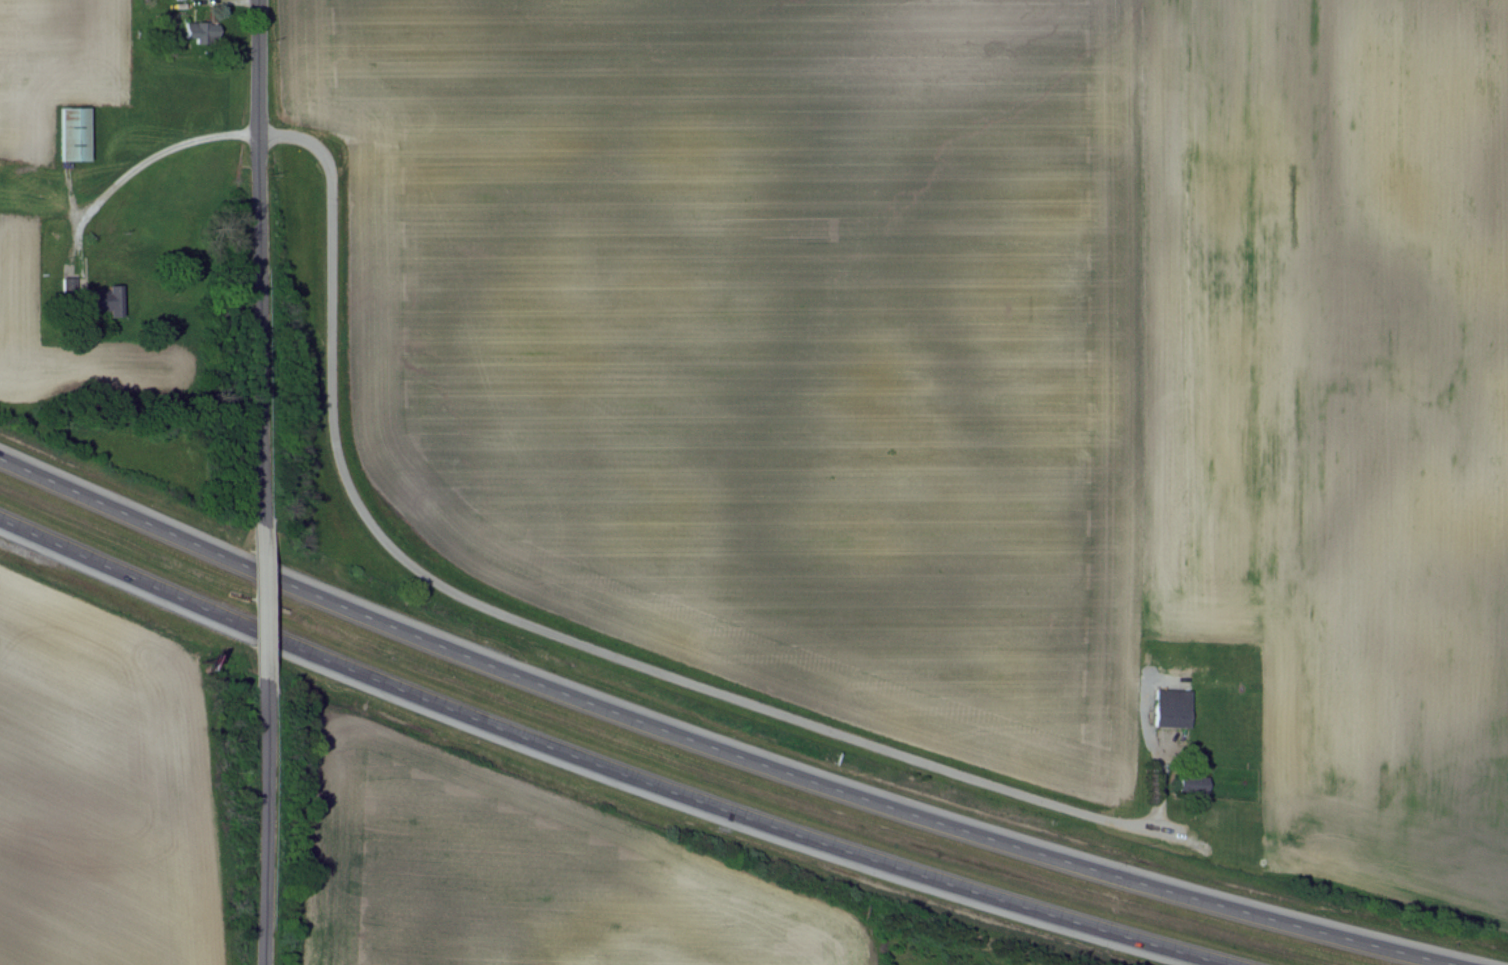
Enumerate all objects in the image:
building: (204, 31)
building: (76, 133)
road: (142, 164)
road: (256, 261)
building: (106, 300)
road: (253, 601)
road: (553, 636)
building: (1173, 707)
road: (713, 748)
road: (601, 765)
building: (1194, 784)
road: (258, 822)

